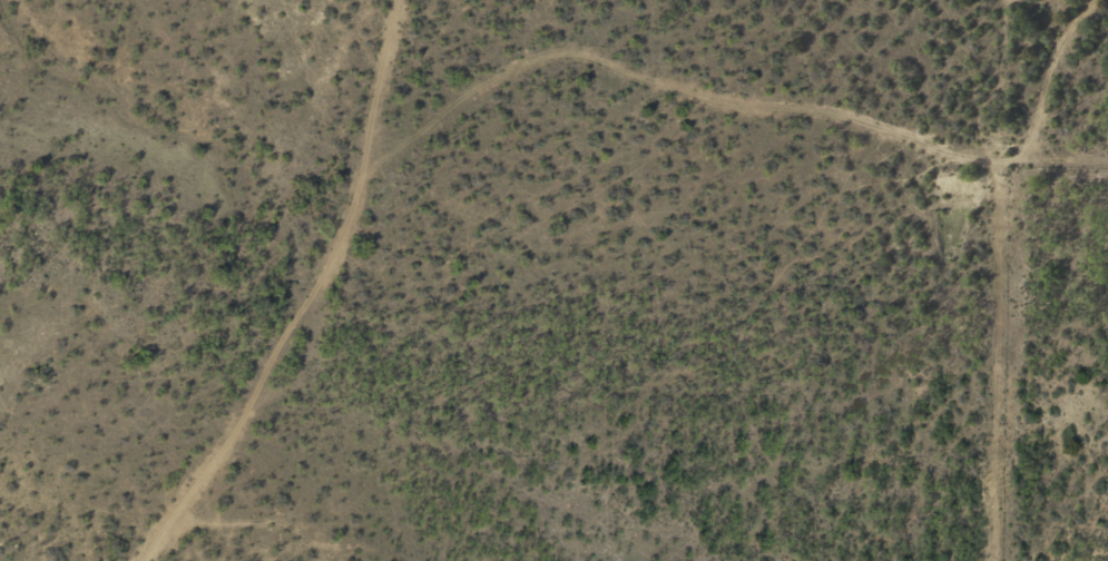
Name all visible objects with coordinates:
road: (823, 104)
road: (335, 282)

